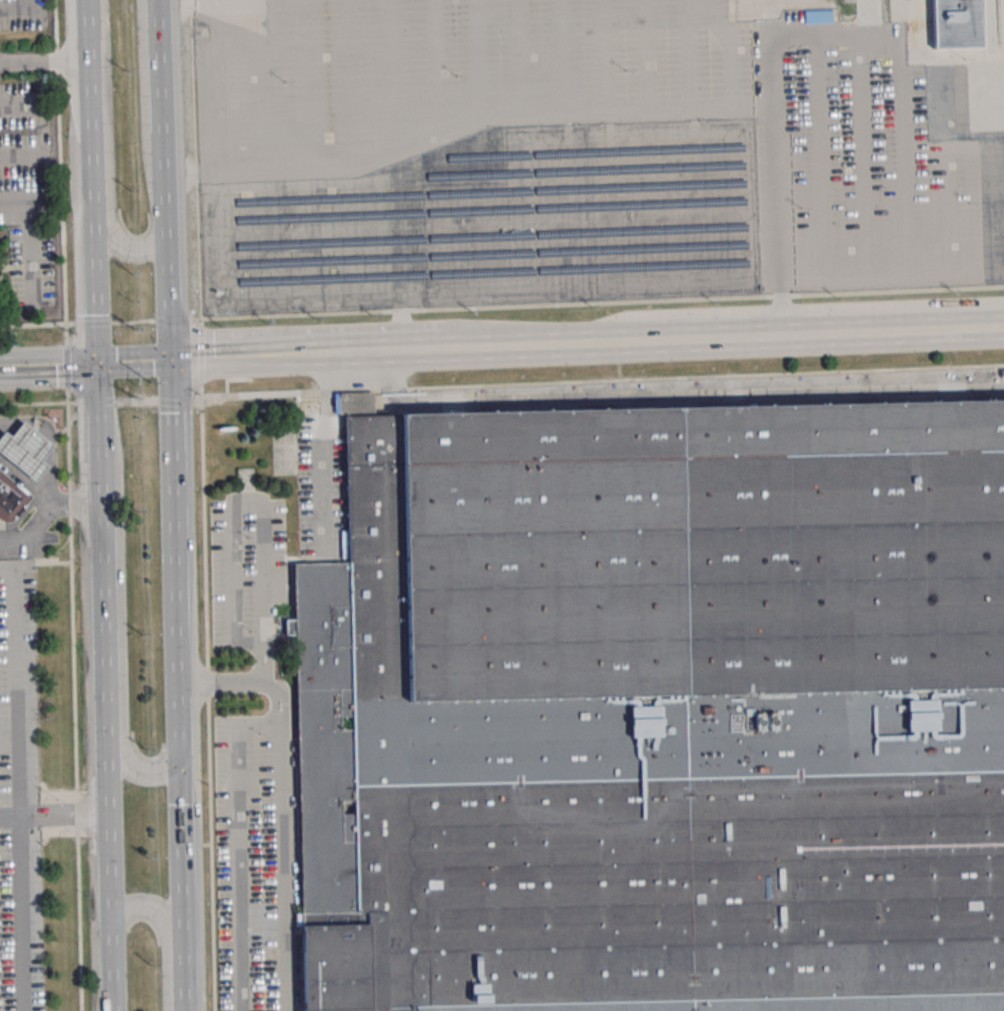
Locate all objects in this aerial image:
road: (227, 1)
road: (22, 12)
road: (83, 17)
building: (955, 23)
road: (42, 59)
road: (157, 66)
road: (897, 82)
road: (87, 118)
road: (458, 130)
road: (43, 142)
road: (195, 162)
road: (785, 186)
road: (159, 191)
road: (114, 244)
road: (31, 250)
road: (92, 284)
road: (596, 302)
road: (164, 308)
road: (130, 321)
road: (35, 324)
road: (723, 343)
road: (200, 354)
road: (384, 357)
road: (246, 362)
road: (131, 366)
traffic signals: (168, 366)
traffic signals: (95, 367)
road: (47, 368)
road: (66, 397)
road: (97, 436)
building: (25, 448)
road: (325, 450)
road: (25, 480)
building: (10, 497)
road: (169, 503)
road: (45, 512)
road: (261, 543)
road: (120, 615)
road: (103, 618)
road: (14, 687)
road: (208, 697)
road: (277, 699)
road: (172, 700)
building: (657, 712)
traffic signals: (173, 762)
road: (54, 815)
road: (240, 846)
road: (175, 855)
road: (283, 867)
road: (110, 870)
road: (154, 911)
road: (178, 979)

